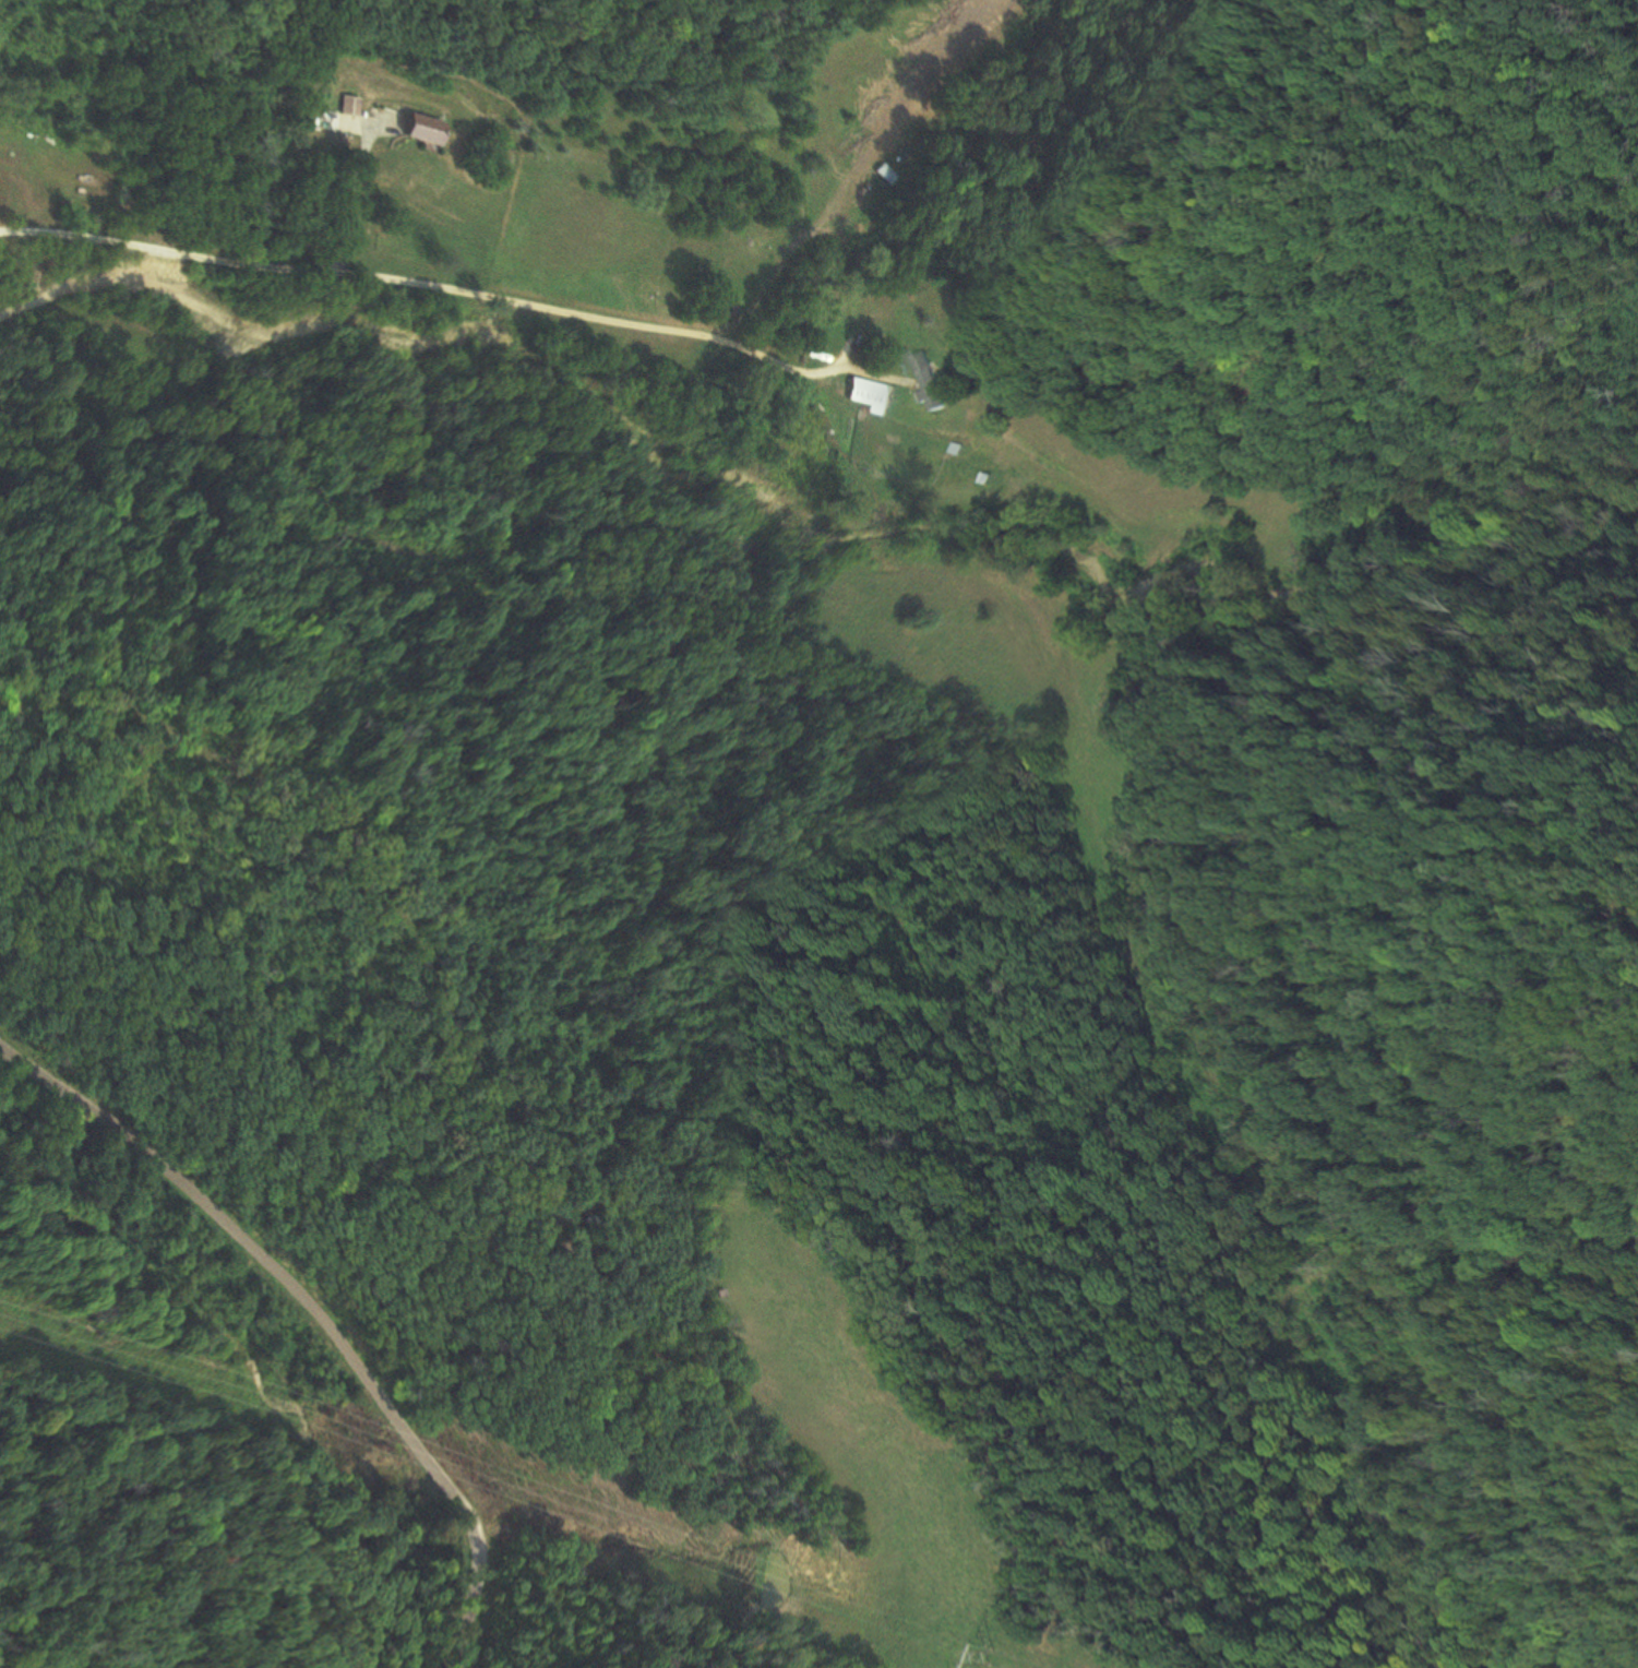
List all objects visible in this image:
road: (351, 196)
road: (449, 287)
road: (310, 1316)
power tower: (989, 1657)

